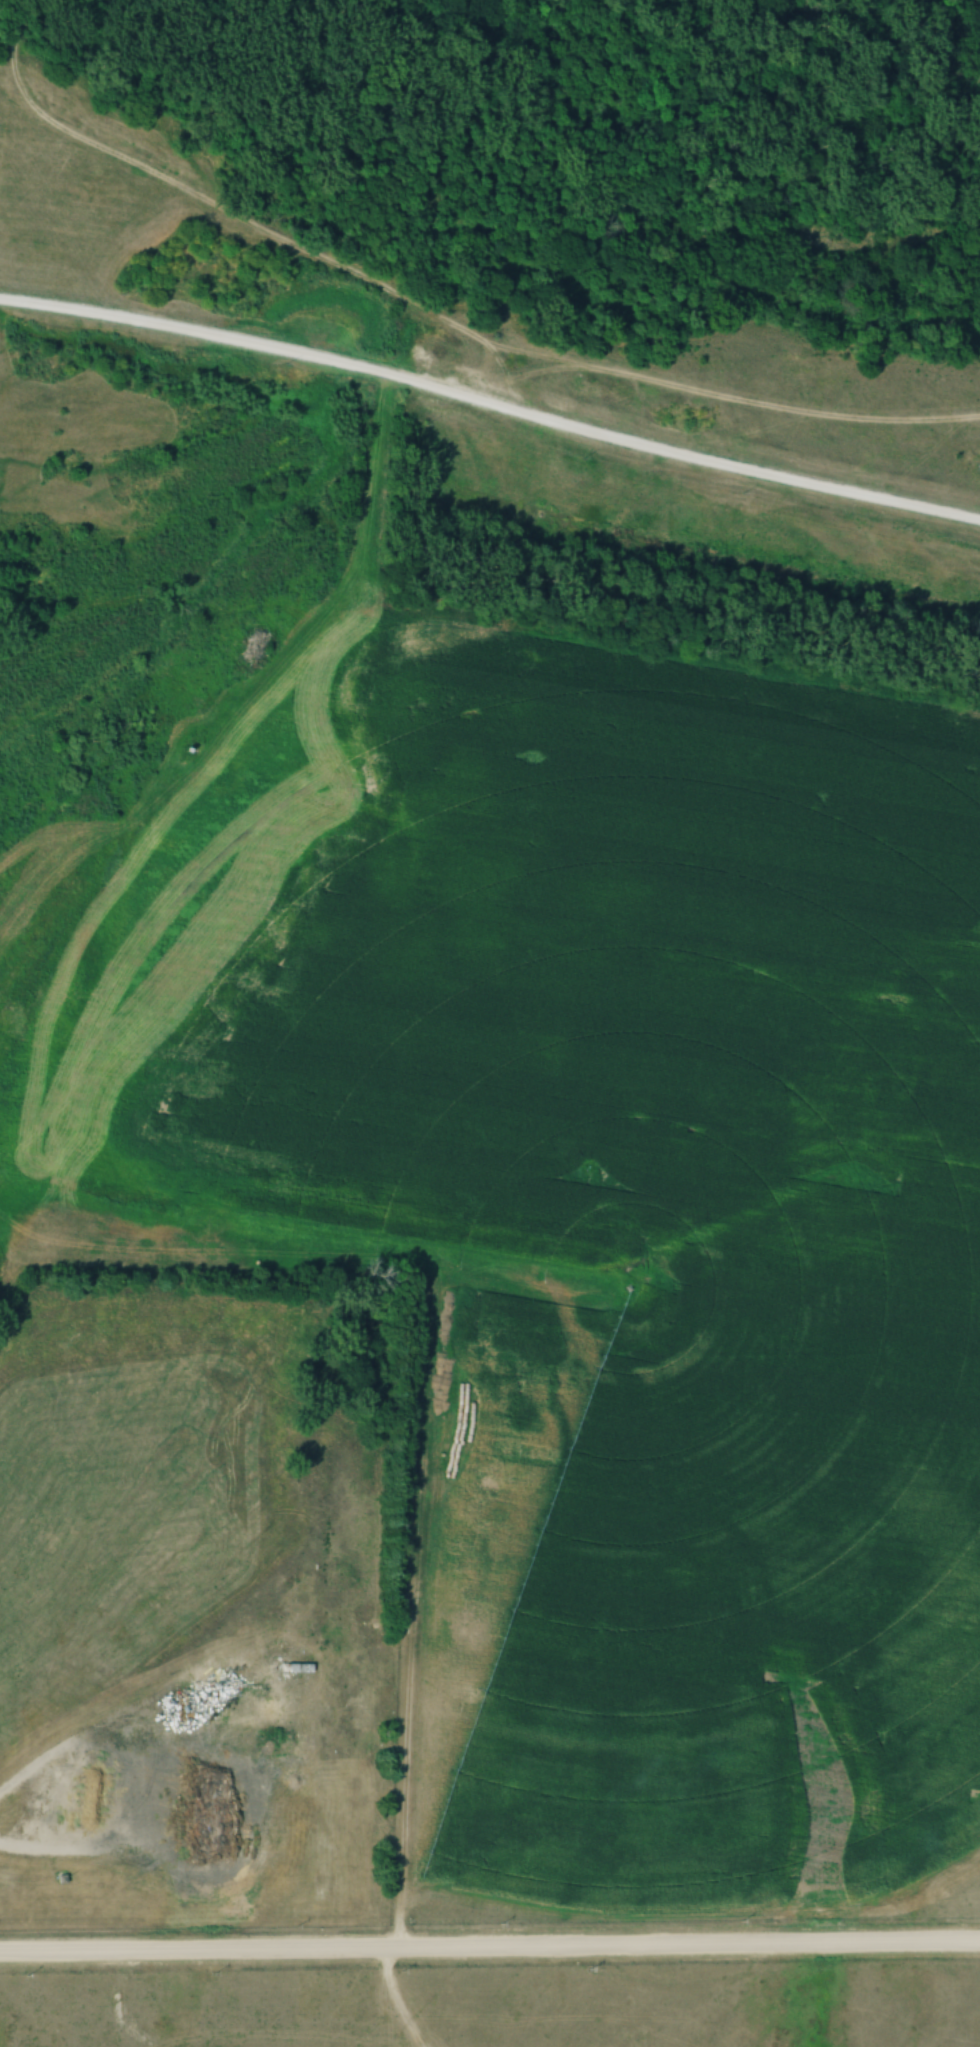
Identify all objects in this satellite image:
road: (491, 403)
road: (69, 1725)
road: (490, 1951)

